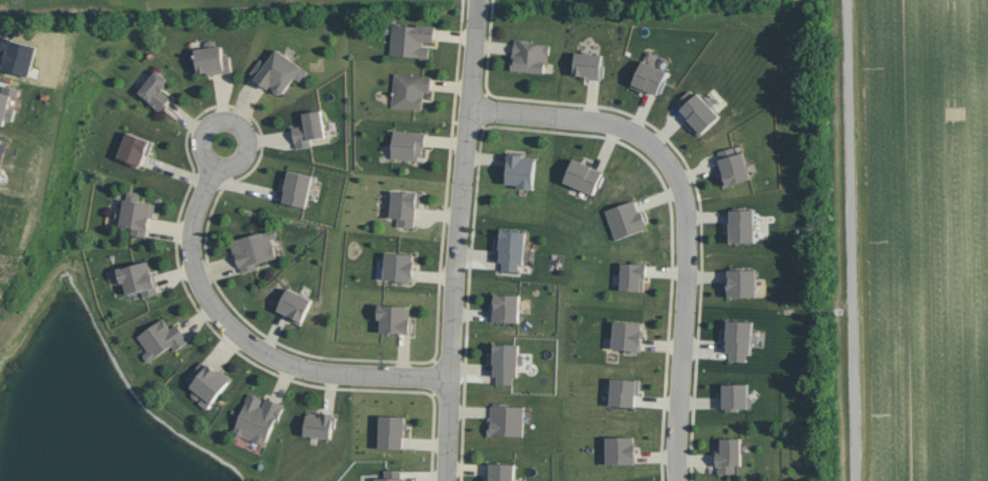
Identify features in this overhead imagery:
road: (474, 18)
building: (412, 39)
building: (530, 56)
building: (212, 59)
building: (588, 65)
building: (278, 72)
building: (649, 78)
building: (156, 89)
building: (410, 90)
building: (7, 103)
building: (697, 111)
building: (309, 128)
building: (408, 144)
building: (135, 148)
building: (732, 166)
building: (521, 170)
building: (584, 176)
building: (297, 188)
building: (405, 206)
road: (686, 212)
building: (136, 213)
building: (625, 218)
building: (741, 225)
road: (848, 240)
building: (512, 248)
building: (254, 249)
road: (456, 258)
building: (399, 266)
building: (633, 275)
building: (139, 278)
building: (741, 282)
building: (295, 305)
building: (506, 307)
building: (395, 318)
building: (627, 336)
building: (161, 338)
building: (738, 338)
road: (244, 341)
building: (506, 361)
building: (207, 383)
building: (624, 391)
building: (736, 396)
building: (257, 417)
building: (506, 419)
building: (319, 424)
building: (392, 431)
building: (620, 449)
building: (728, 454)
building: (501, 472)
building: (391, 475)

